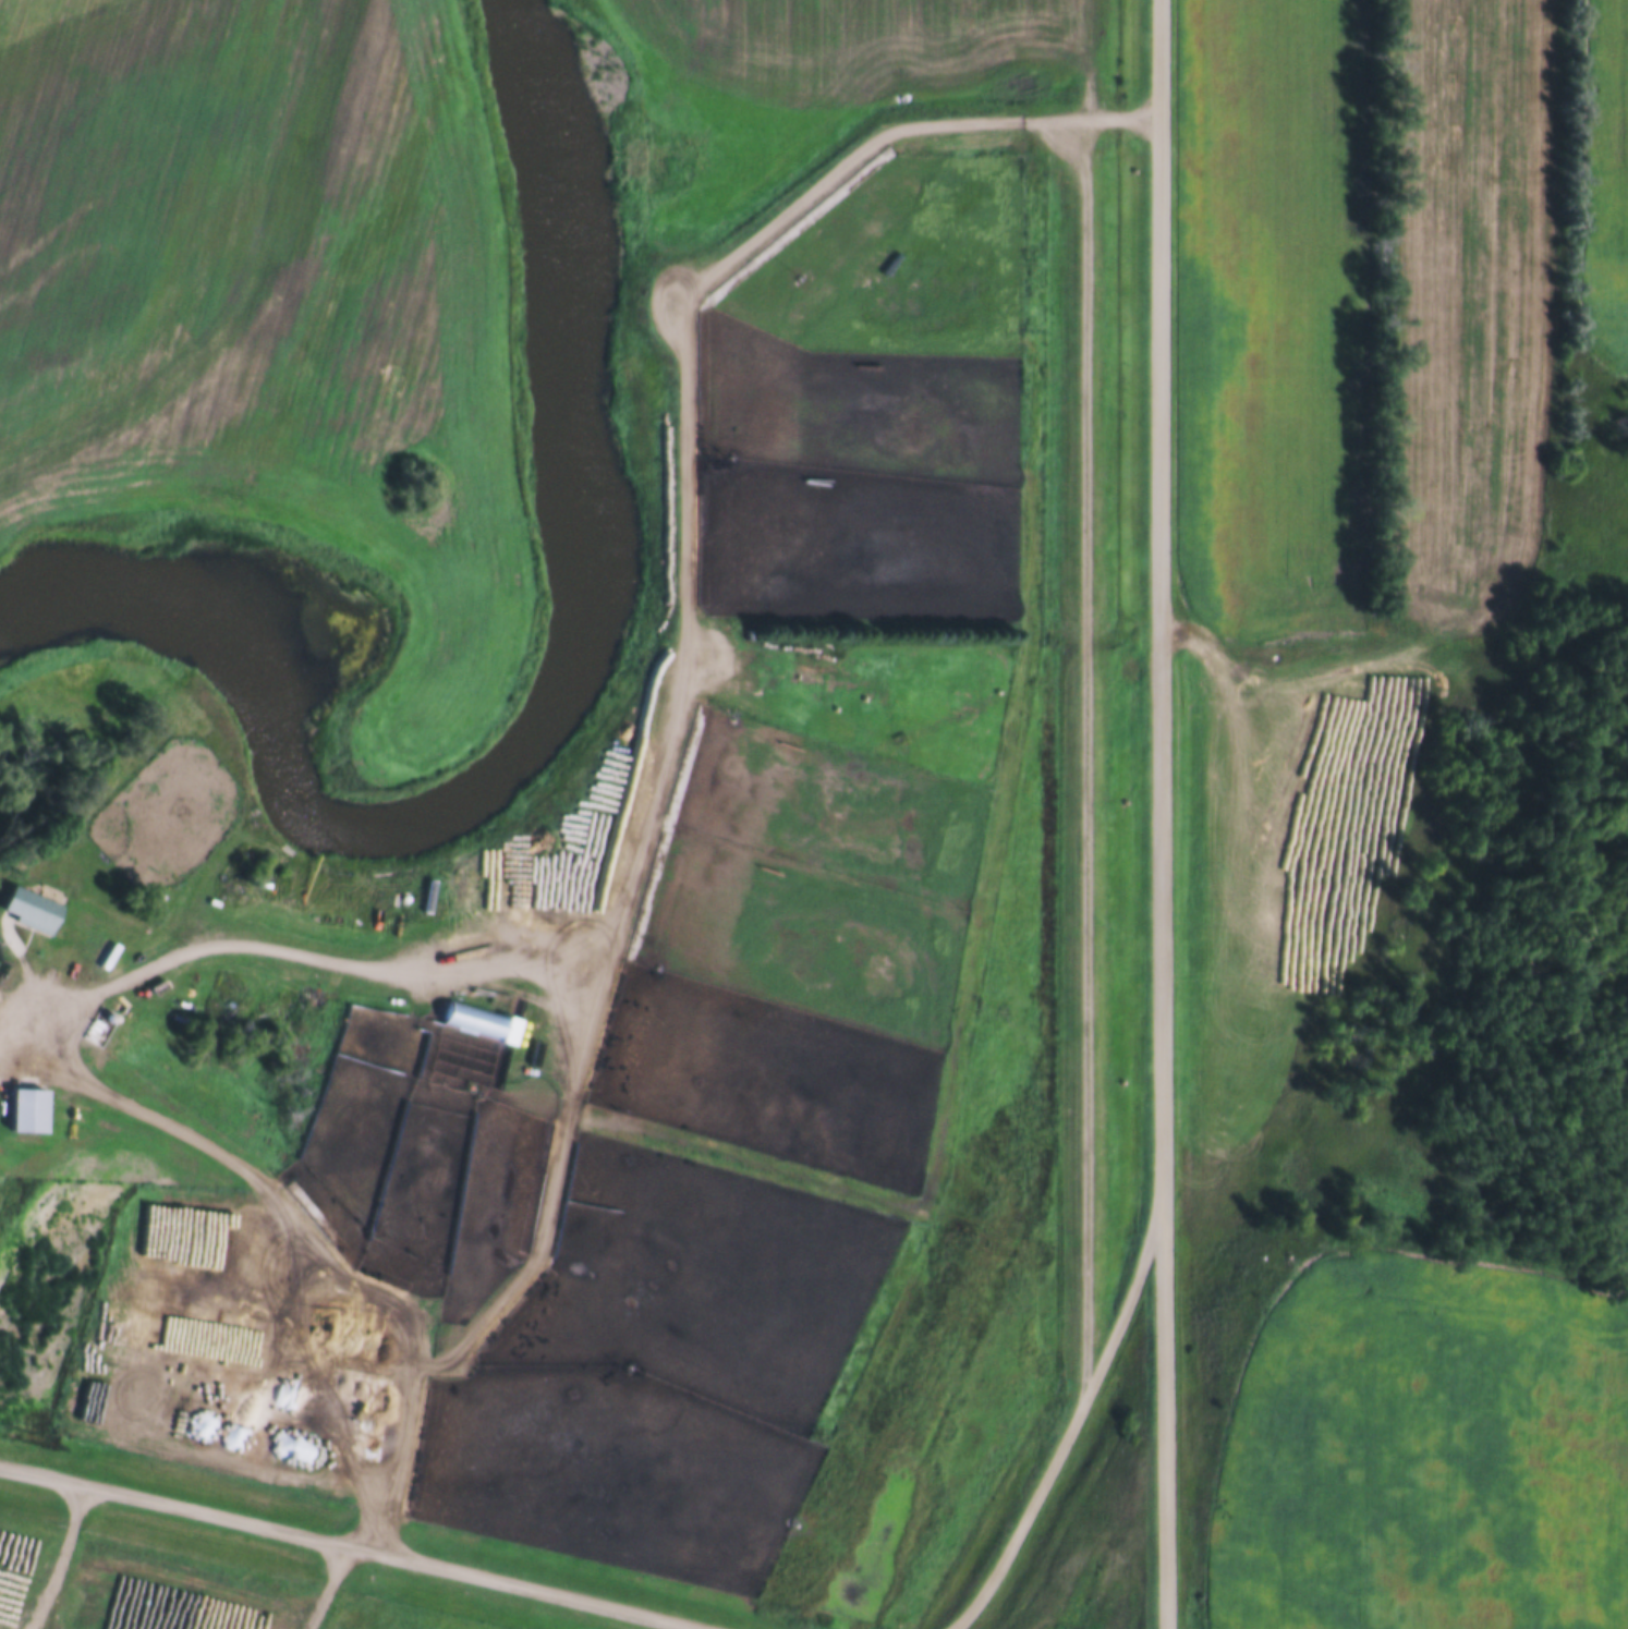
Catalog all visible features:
river: (551, 708)
road: (1157, 814)
building: (423, 899)
building: (25, 909)
road: (196, 945)
building: (459, 1012)
road: (71, 1042)
building: (24, 1111)
road: (292, 1230)
road: (386, 1427)
road: (1579, 1433)
road: (1064, 1434)
road: (354, 1545)
road: (62, 1554)

